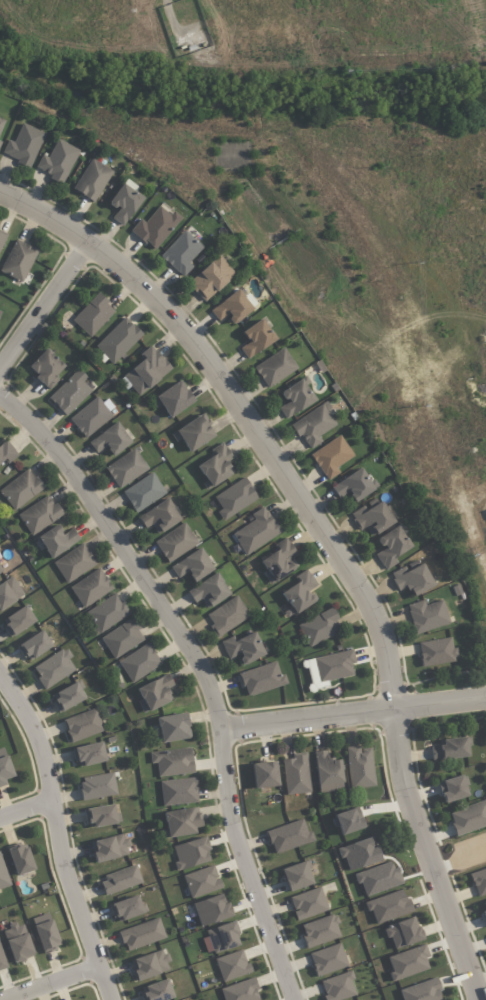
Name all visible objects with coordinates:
building: (0, 122)
building: (0, 143)
building: (24, 145)
building: (57, 161)
building: (92, 180)
building: (123, 203)
building: (155, 227)
building: (2, 238)
building: (181, 252)
building: (18, 260)
building: (211, 278)
road: (45, 305)
building: (231, 307)
building: (93, 315)
building: (256, 338)
building: (118, 340)
building: (275, 367)
building: (45, 368)
building: (147, 370)
building: (70, 392)
building: (296, 397)
building: (174, 398)
building: (90, 417)
building: (313, 426)
building: (193, 433)
building: (109, 440)
building: (6, 452)
building: (331, 456)
building: (216, 465)
building: (126, 468)
building: (352, 486)
building: (20, 489)
building: (143, 492)
building: (234, 498)
building: (39, 515)
building: (159, 516)
building: (372, 518)
building: (256, 531)
building: (56, 540)
building: (175, 542)
road: (329, 542)
building: (391, 547)
building: (279, 560)
building: (73, 563)
building: (192, 565)
building: (0, 569)
building: (0, 571)
building: (411, 579)
building: (90, 588)
building: (8, 591)
building: (208, 591)
building: (299, 592)
building: (106, 613)
building: (426, 615)
building: (227, 616)
building: (17, 621)
building: (319, 627)
building: (122, 638)
building: (33, 646)
building: (242, 648)
building: (436, 652)
building: (139, 662)
building: (333, 665)
building: (53, 668)
road: (202, 672)
building: (261, 679)
building: (155, 692)
building: (67, 696)
road: (353, 712)
building: (82, 725)
building: (172, 727)
building: (449, 749)
building: (88, 754)
building: (172, 762)
building: (4, 767)
building: (359, 767)
building: (327, 773)
building: (264, 774)
building: (296, 774)
building: (97, 786)
building: (451, 789)
building: (178, 791)
road: (25, 808)
building: (101, 816)
building: (468, 817)
building: (181, 822)
building: (288, 836)
road: (55, 837)
building: (109, 848)
building: (190, 853)
building: (19, 859)
building: (296, 875)
building: (3, 876)
building: (120, 880)
building: (201, 881)
building: (479, 881)
building: (307, 903)
building: (388, 906)
building: (127, 908)
building: (484, 908)
building: (210, 909)
building: (320, 931)
building: (45, 932)
building: (402, 932)
building: (141, 934)
building: (222, 937)
building: (18, 942)
building: (327, 959)
building: (2, 960)
building: (408, 962)
building: (149, 965)
building: (232, 965)
road: (48, 977)
building: (338, 986)
building: (156, 991)
building: (240, 991)
building: (421, 991)

